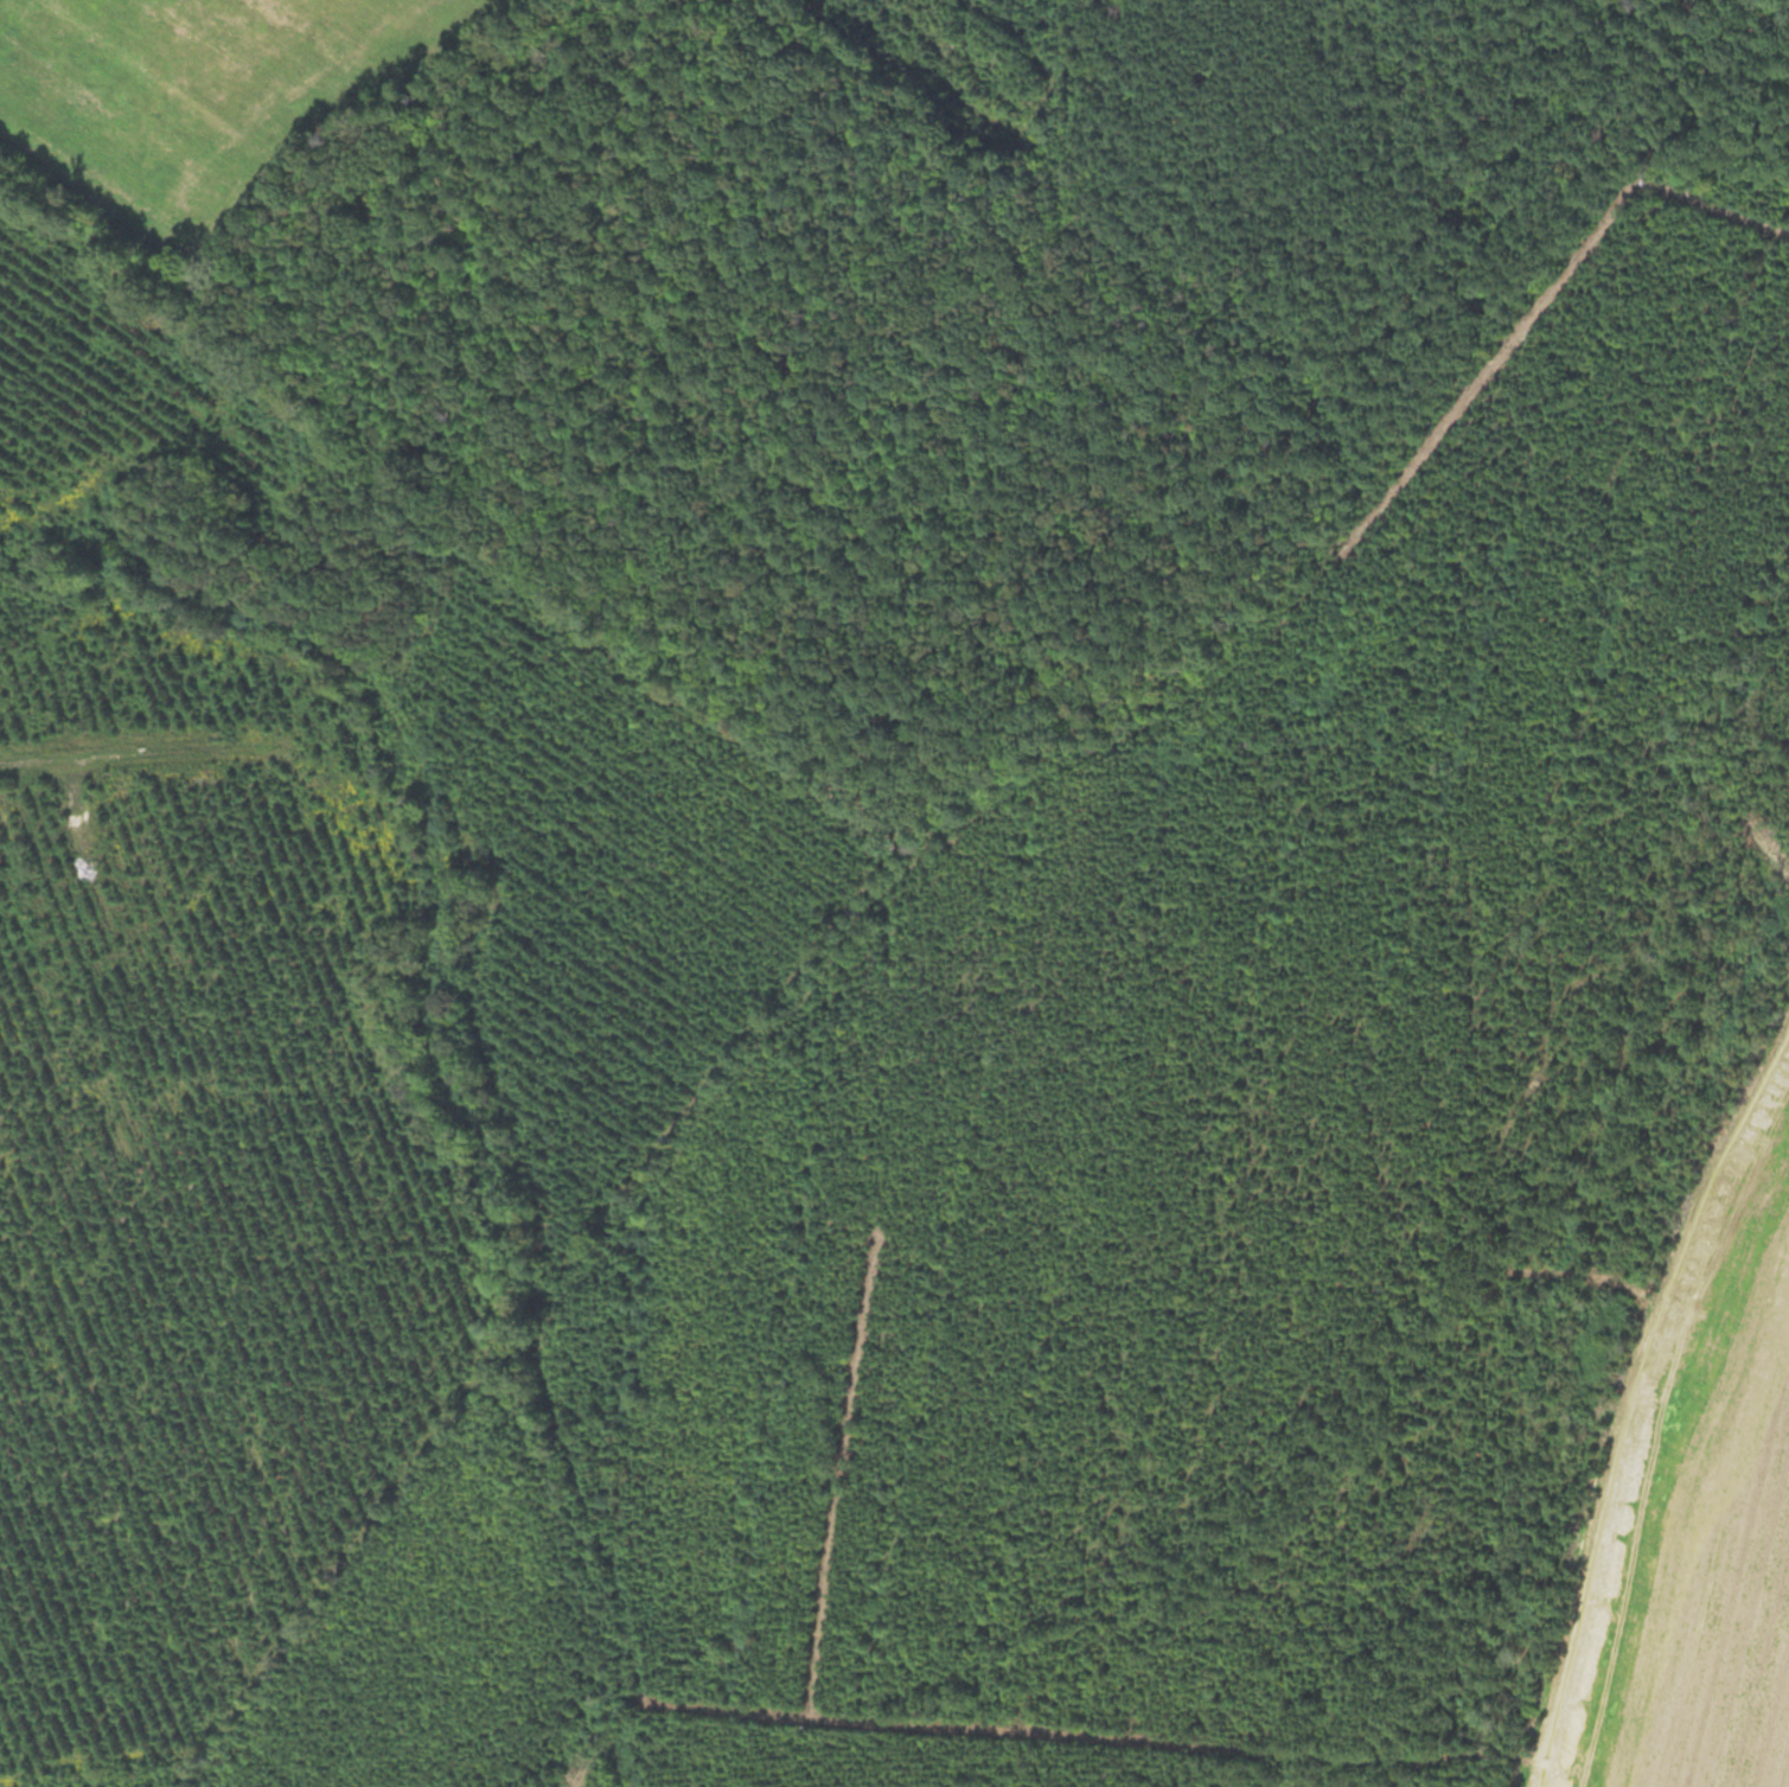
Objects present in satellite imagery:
road: (1003, 23)

